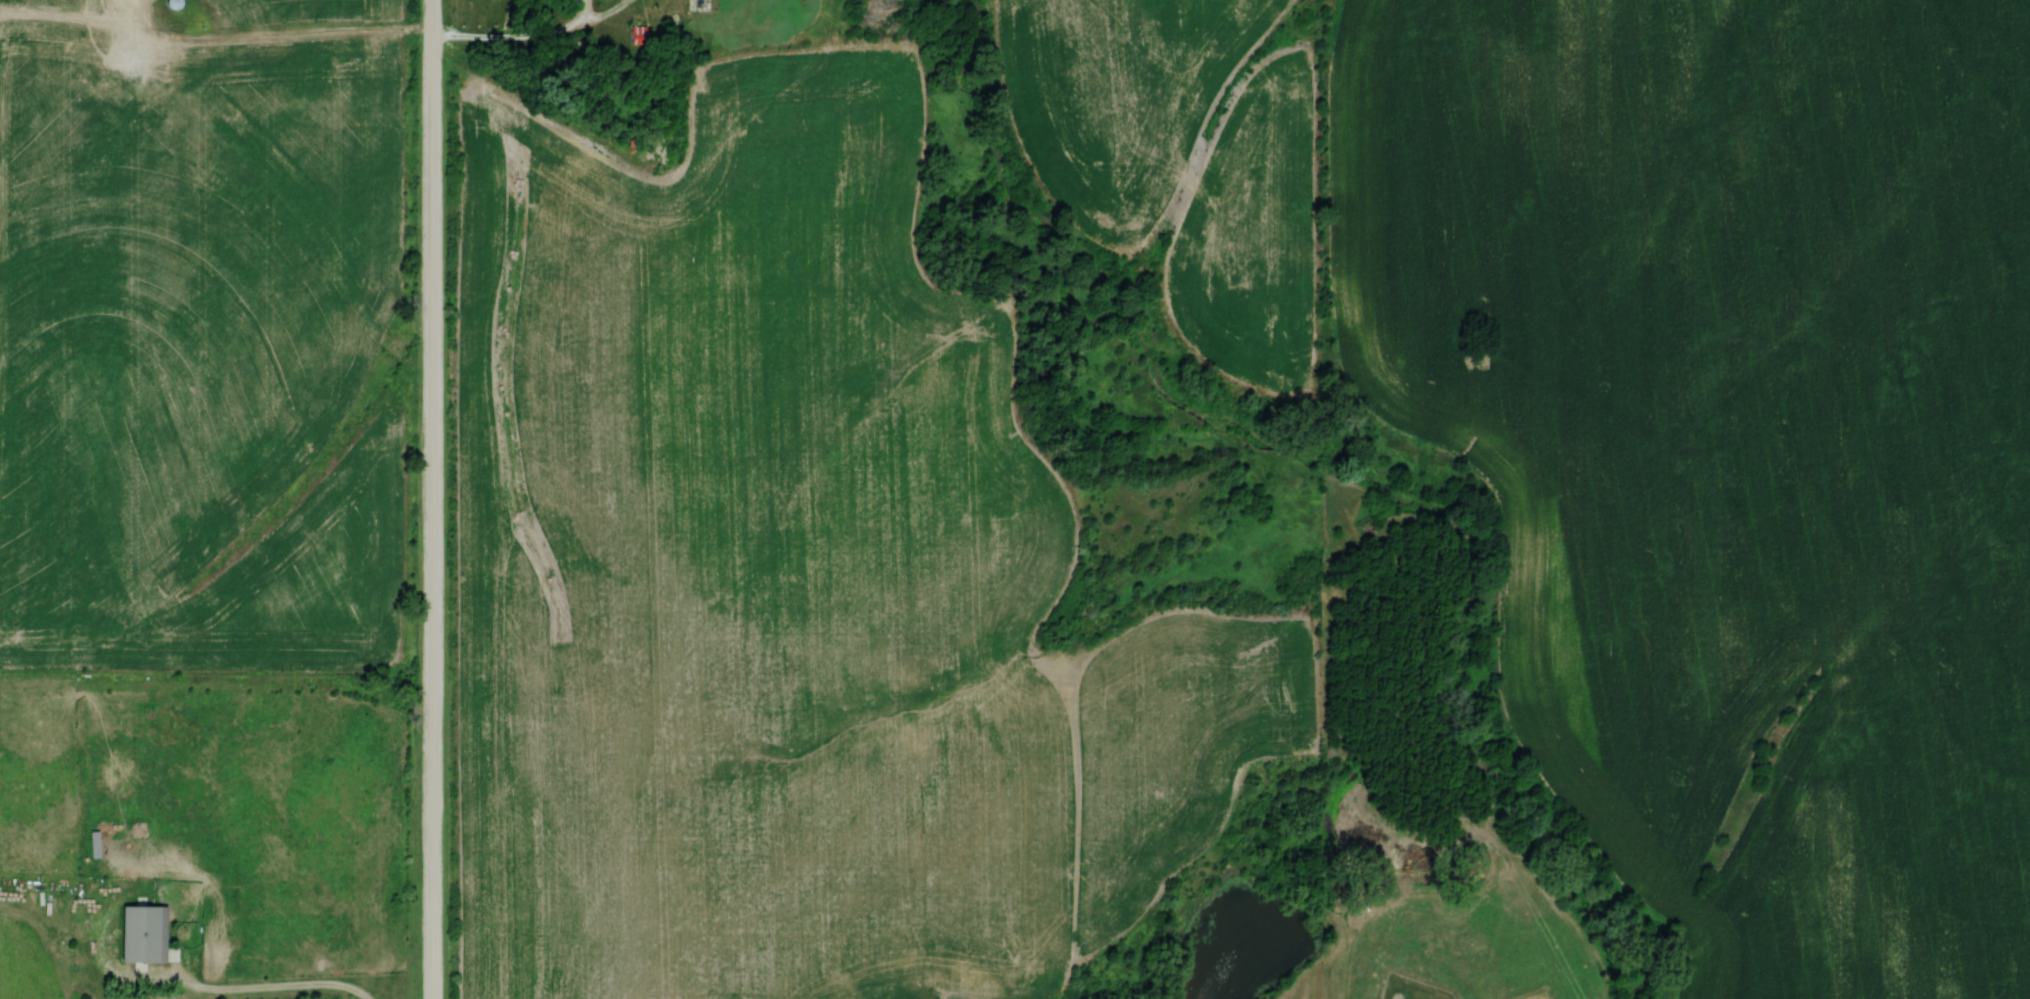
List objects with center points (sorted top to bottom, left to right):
building: (171, 4)
road: (516, 36)
road: (431, 499)
building: (141, 937)

